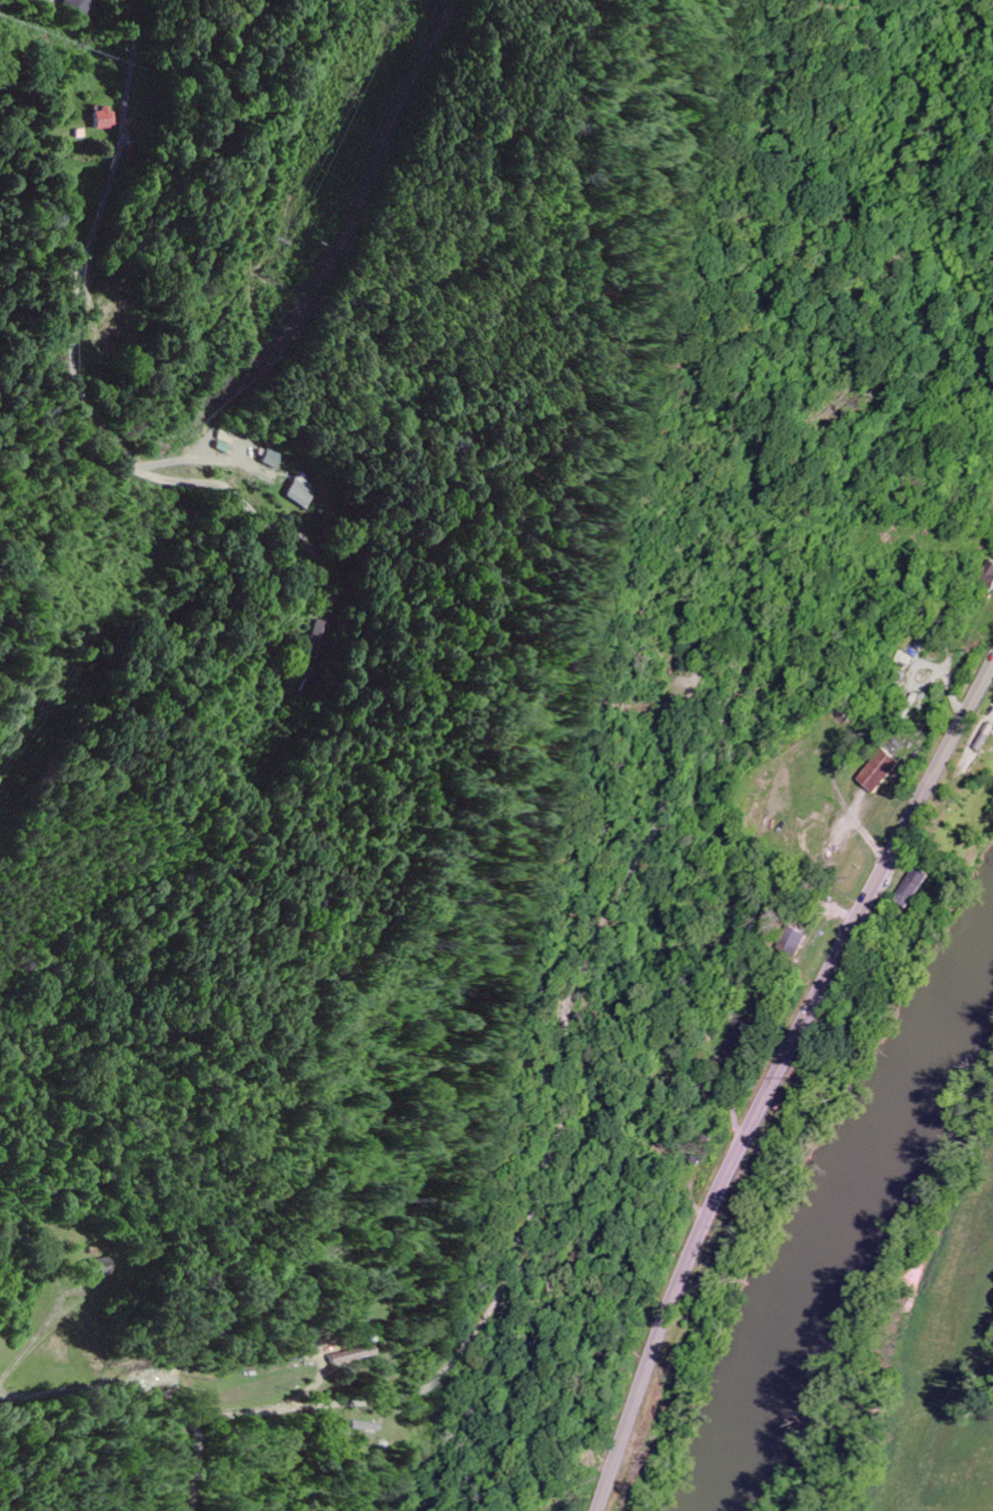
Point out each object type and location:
building: (80, 6)
building: (104, 118)
road: (78, 317)
building: (276, 456)
building: (304, 491)
building: (987, 574)
building: (314, 644)
building: (882, 772)
building: (916, 887)
road: (774, 1076)
river: (843, 1220)
building: (103, 1268)
building: (710, 1282)
building: (337, 1355)
road: (136, 1401)
building: (365, 1426)
road: (197, 1463)

